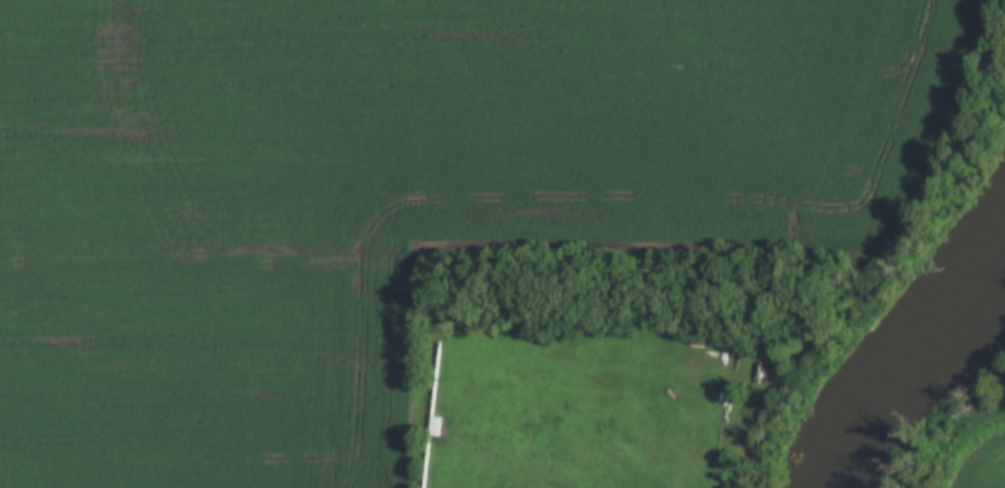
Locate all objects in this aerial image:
river: (915, 355)
crop: (978, 459)

